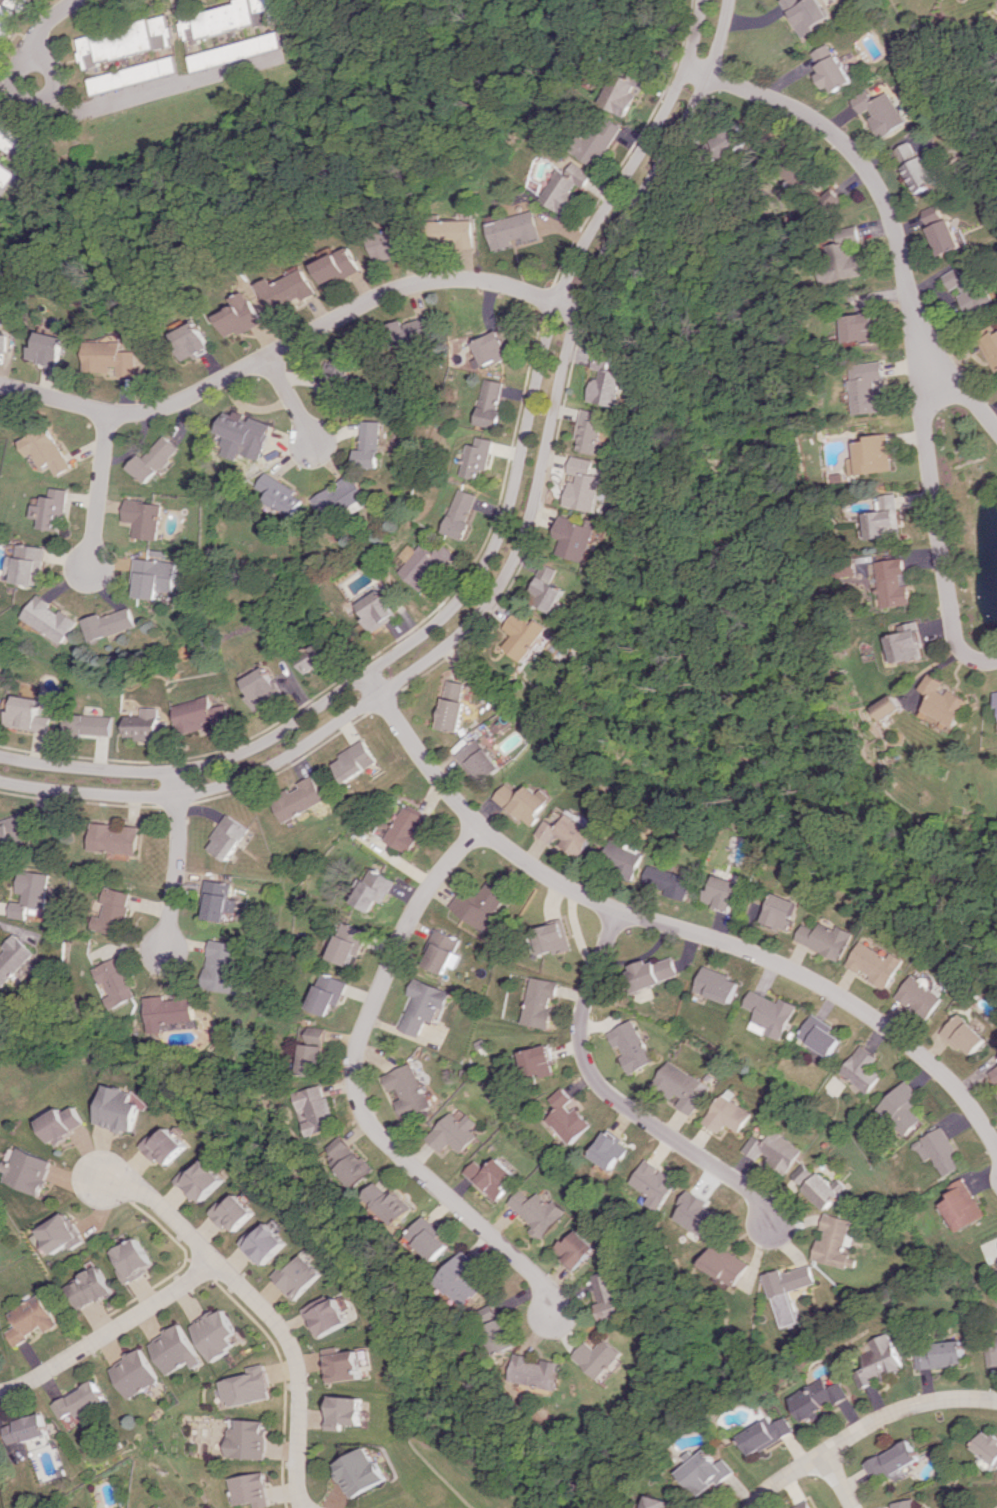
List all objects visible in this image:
building: (20, 3)
building: (808, 14)
building: (230, 18)
road: (47, 23)
building: (8, 25)
building: (127, 41)
building: (240, 51)
building: (833, 68)
building: (137, 74)
road: (9, 85)
road: (169, 87)
building: (624, 92)
road: (52, 94)
building: (881, 111)
building: (13, 131)
building: (600, 139)
building: (735, 140)
building: (25, 154)
building: (916, 166)
road: (864, 168)
building: (8, 173)
building: (805, 174)
building: (566, 187)
road: (1, 192)
building: (836, 196)
building: (513, 229)
building: (452, 232)
building: (391, 243)
building: (848, 255)
building: (338, 266)
building: (967, 289)
building: (289, 290)
building: (2, 315)
building: (242, 315)
building: (862, 328)
building: (409, 331)
building: (194, 341)
building: (4, 342)
road: (290, 342)
building: (491, 348)
building: (991, 348)
building: (49, 349)
building: (113, 358)
building: (334, 376)
building: (610, 381)
building: (870, 387)
road: (290, 400)
building: (489, 403)
building: (593, 430)
building: (244, 436)
building: (369, 445)
building: (49, 450)
building: (878, 454)
building: (477, 458)
building: (155, 459)
road: (933, 479)
building: (344, 493)
road: (99, 494)
building: (461, 514)
building: (889, 517)
building: (144, 518)
building: (578, 537)
road: (497, 540)
road: (518, 559)
building: (31, 564)
building: (424, 564)
building: (155, 577)
building: (898, 582)
building: (549, 588)
building: (376, 610)
building: (53, 618)
building: (111, 623)
building: (526, 634)
building: (909, 642)
building: (314, 657)
building: (261, 687)
building: (946, 702)
building: (454, 705)
building: (889, 707)
building: (27, 715)
building: (200, 715)
building: (89, 724)
building: (146, 725)
building: (480, 760)
building: (358, 761)
building: (301, 799)
building: (523, 802)
building: (410, 828)
building: (13, 833)
building: (568, 834)
building: (231, 836)
building: (117, 838)
building: (618, 853)
road: (178, 861)
building: (667, 881)
building: (376, 890)
building: (721, 892)
building: (33, 893)
building: (221, 900)
building: (484, 904)
building: (117, 911)
building: (779, 911)
road: (667, 926)
building: (552, 938)
building: (825, 939)
building: (352, 943)
building: (443, 952)
building: (14, 959)
building: (874, 964)
building: (225, 967)
building: (653, 972)
building: (118, 982)
building: (717, 985)
building: (331, 993)
building: (919, 997)
building: (540, 1001)
building: (424, 1005)
building: (170, 1012)
building: (770, 1014)
building: (964, 1034)
building: (820, 1035)
building: (632, 1046)
building: (317, 1055)
building: (538, 1062)
building: (863, 1069)
building: (994, 1073)
building: (683, 1087)
building: (409, 1090)
road: (362, 1095)
road: (616, 1095)
building: (903, 1108)
building: (117, 1109)
building: (320, 1109)
building: (727, 1115)
building: (569, 1117)
building: (63, 1124)
building: (454, 1132)
building: (164, 1146)
building: (611, 1150)
building: (939, 1150)
building: (775, 1151)
building: (354, 1161)
building: (28, 1170)
building: (805, 1173)
building: (493, 1177)
building: (200, 1181)
building: (658, 1184)
building: (826, 1190)
building: (393, 1203)
building: (961, 1205)
building: (540, 1211)
building: (232, 1212)
building: (59, 1233)
building: (433, 1238)
building: (264, 1243)
building: (835, 1243)
building: (578, 1248)
building: (130, 1260)
building: (728, 1264)
building: (299, 1276)
building: (466, 1279)
building: (88, 1287)
building: (789, 1290)
building: (610, 1295)
road: (261, 1306)
building: (330, 1315)
building: (30, 1319)
building: (503, 1328)
road: (108, 1330)
building: (216, 1333)
building: (174, 1349)
building: (991, 1349)
building: (939, 1354)
building: (604, 1357)
building: (879, 1361)
building: (345, 1364)
building: (543, 1372)
building: (133, 1373)
building: (248, 1387)
building: (829, 1392)
building: (79, 1401)
building: (807, 1404)
building: (346, 1411)
road: (863, 1427)
building: (23, 1434)
building: (765, 1434)
building: (246, 1439)
building: (986, 1447)
building: (893, 1459)
building: (706, 1470)
building: (360, 1471)
road: (836, 1480)
building: (248, 1489)
building: (662, 1503)
building: (903, 1504)
building: (803, 1505)

